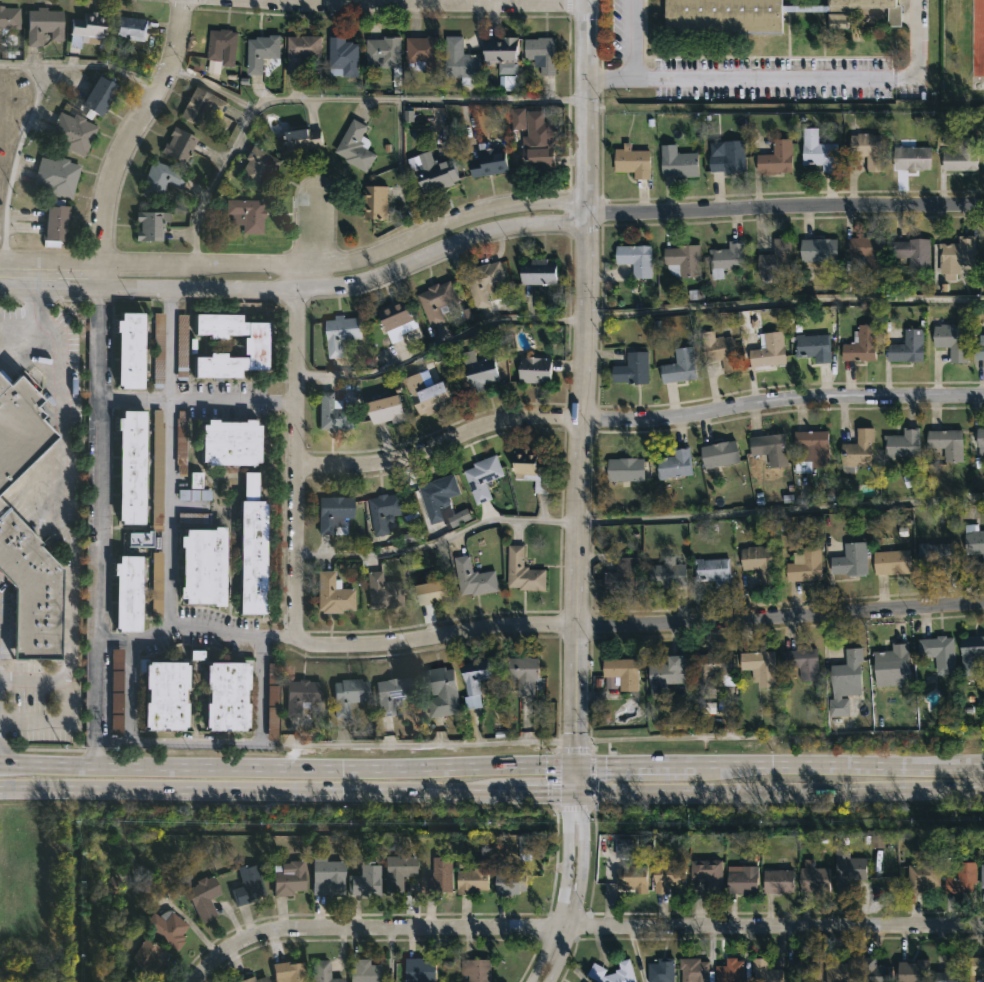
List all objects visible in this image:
road: (419, 3)
building: (756, 15)
building: (9, 18)
building: (44, 24)
building: (133, 27)
building: (88, 30)
building: (224, 45)
park: (963, 49)
building: (386, 50)
building: (264, 51)
building: (303, 51)
building: (424, 51)
building: (504, 51)
road: (916, 52)
building: (544, 54)
building: (345, 55)
building: (462, 60)
road: (82, 66)
road: (608, 81)
road: (718, 81)
road: (212, 87)
building: (96, 95)
road: (334, 99)
road: (784, 105)
building: (205, 112)
building: (69, 133)
road: (136, 136)
building: (306, 138)
building: (530, 142)
building: (179, 144)
building: (357, 145)
building: (866, 150)
building: (817, 151)
building: (961, 155)
building: (727, 157)
building: (774, 157)
building: (910, 158)
building: (487, 161)
building: (630, 161)
building: (676, 164)
road: (14, 166)
building: (259, 167)
building: (437, 174)
building: (53, 175)
building: (159, 180)
building: (376, 202)
road: (785, 205)
building: (248, 213)
building: (57, 222)
building: (148, 225)
road: (314, 227)
building: (817, 250)
building: (867, 251)
building: (915, 253)
building: (956, 254)
building: (726, 257)
building: (634, 259)
road: (347, 260)
building: (681, 260)
building: (773, 260)
building: (537, 272)
road: (48, 273)
road: (304, 275)
building: (487, 281)
road: (346, 282)
road: (96, 289)
building: (438, 301)
road: (634, 313)
building: (398, 319)
road: (20, 322)
building: (338, 334)
building: (949, 340)
building: (254, 345)
building: (859, 345)
building: (178, 346)
building: (812, 347)
building: (906, 347)
building: (127, 349)
building: (156, 349)
building: (767, 351)
building: (978, 351)
building: (719, 352)
building: (679, 365)
building: (631, 369)
building: (481, 370)
building: (534, 370)
building: (429, 393)
road: (580, 395)
road: (195, 400)
building: (387, 410)
building: (335, 413)
road: (636, 421)
building: (19, 427)
building: (979, 437)
building: (181, 443)
building: (227, 443)
building: (901, 444)
building: (946, 444)
building: (769, 449)
building: (809, 450)
building: (856, 451)
building: (718, 454)
building: (673, 464)
building: (129, 466)
building: (530, 468)
building: (626, 469)
building: (484, 477)
road: (294, 478)
building: (154, 482)
building: (248, 484)
building: (192, 494)
building: (437, 499)
road: (61, 504)
building: (385, 511)
building: (331, 512)
building: (191, 517)
building: (458, 518)
road: (167, 519)
road: (635, 519)
road: (95, 524)
building: (137, 538)
building: (973, 542)
building: (249, 556)
building: (937, 556)
building: (849, 560)
building: (757, 562)
building: (890, 563)
building: (200, 566)
building: (804, 567)
building: (711, 571)
building: (525, 572)
building: (666, 574)
building: (622, 576)
building: (475, 578)
building: (154, 582)
building: (30, 591)
building: (383, 592)
building: (435, 592)
building: (125, 593)
building: (334, 594)
road: (653, 624)
building: (937, 654)
building: (970, 654)
building: (890, 659)
building: (801, 663)
building: (759, 667)
building: (708, 668)
building: (526, 673)
building: (621, 673)
building: (664, 676)
building: (478, 678)
building: (844, 682)
building: (441, 690)
building: (116, 692)
building: (391, 693)
building: (163, 695)
building: (224, 695)
building: (302, 695)
building: (345, 696)
building: (272, 722)
road: (177, 741)
road: (93, 754)
road: (491, 764)
traffic signals: (573, 764)
road: (977, 777)
road: (491, 792)
traffic signals: (573, 792)
building: (876, 841)
building: (525, 845)
building: (623, 849)
building: (847, 868)
building: (401, 869)
building: (705, 872)
building: (922, 873)
building: (981, 874)
building: (325, 875)
building: (439, 875)
building: (666, 875)
building: (812, 875)
building: (629, 876)
building: (471, 877)
building: (961, 877)
building: (287, 878)
building: (365, 879)
building: (742, 880)
building: (776, 880)
building: (248, 881)
building: (508, 881)
building: (111, 887)
road: (569, 889)
building: (204, 896)
building: (167, 926)
road: (603, 929)
building: (145, 959)
road: (207, 963)
building: (977, 966)
building: (423, 969)
building: (477, 969)
building: (366, 970)
building: (660, 970)
building: (692, 970)
building: (805, 970)
building: (839, 970)
building: (289, 971)
building: (319, 971)
building: (728, 971)
building: (763, 971)
building: (874, 971)
building: (911, 971)
building: (951, 971)
building: (611, 972)
building: (255, 979)

